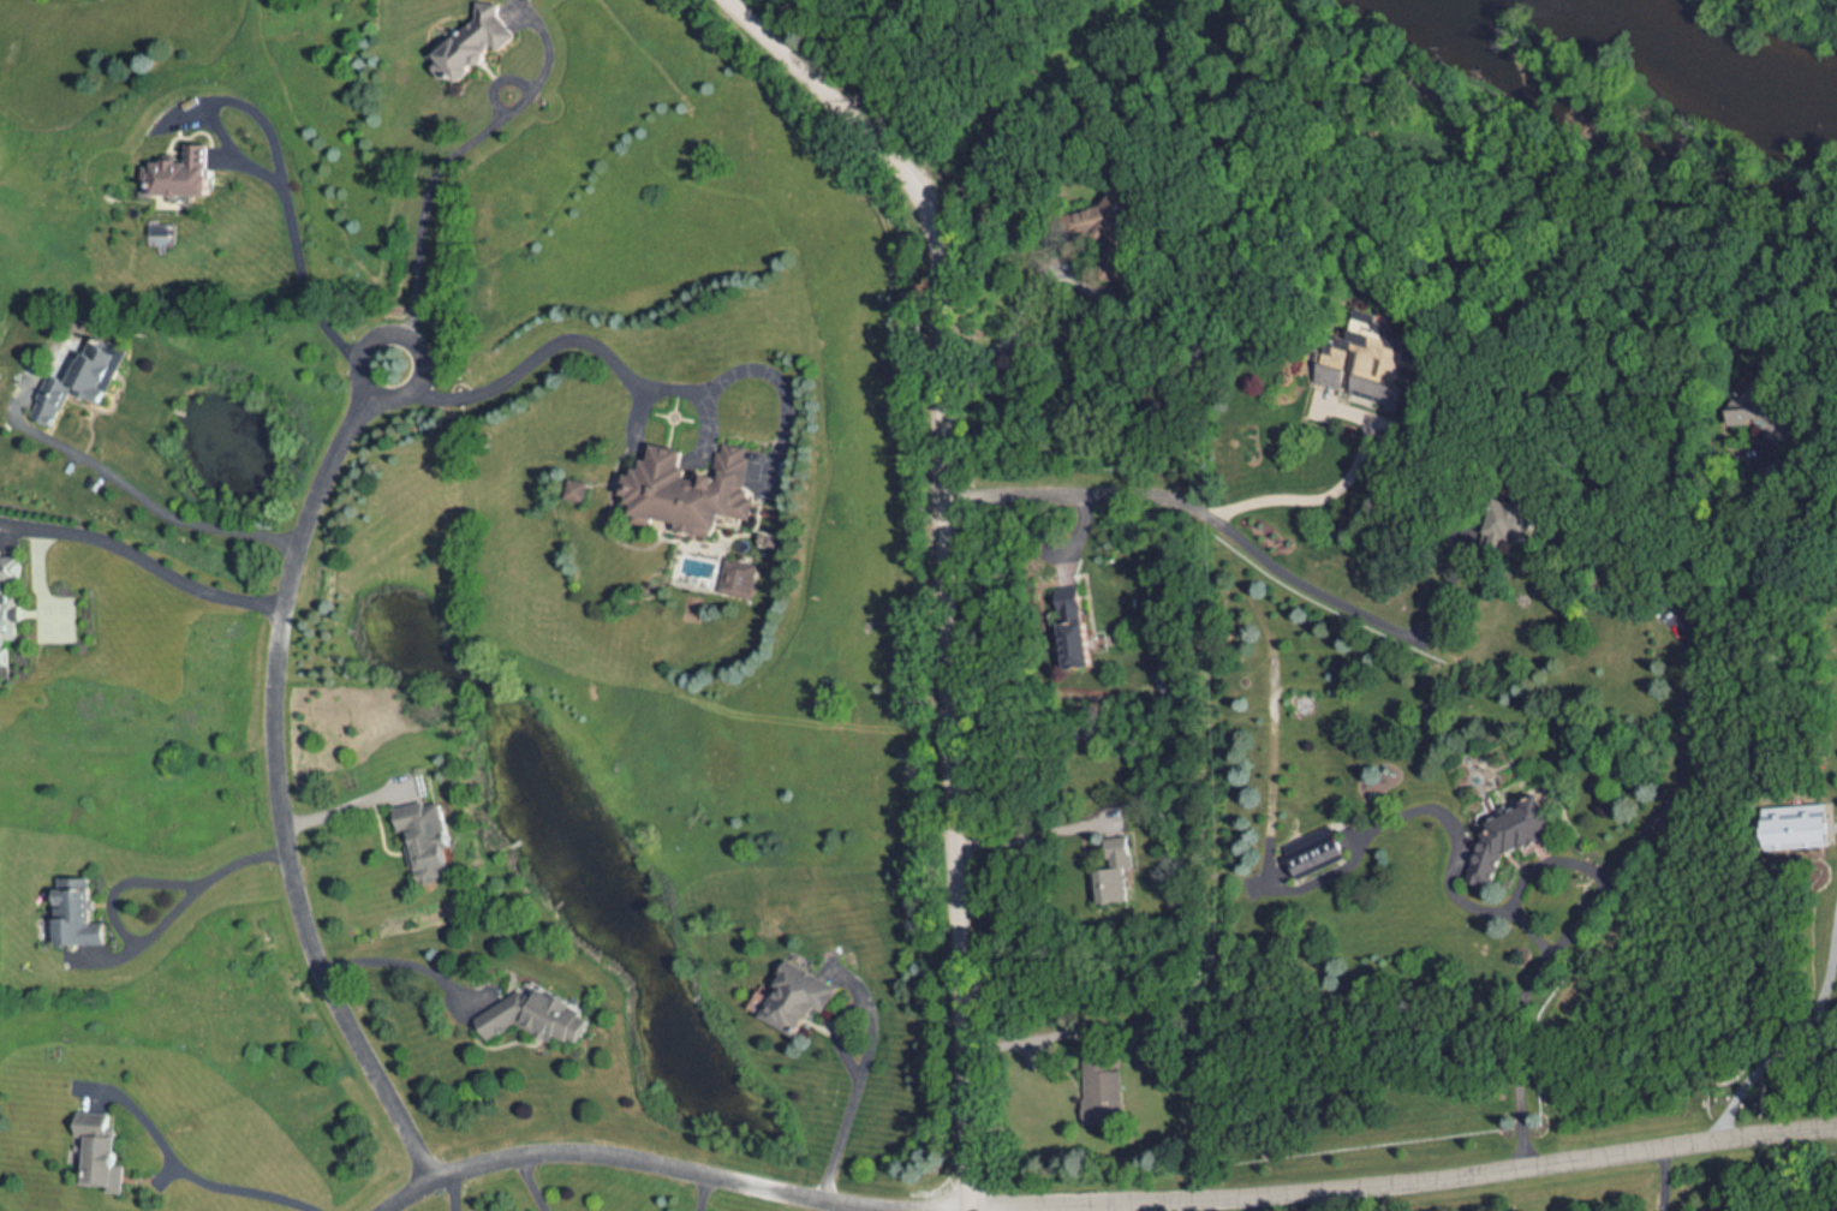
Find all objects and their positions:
building: (479, 43)
river: (1688, 71)
road: (441, 171)
building: (185, 174)
road: (296, 262)
road: (1084, 310)
road: (532, 356)
road: (759, 371)
building: (1347, 381)
building: (85, 382)
road: (632, 423)
road: (704, 430)
road: (662, 459)
building: (694, 490)
road: (130, 494)
road: (1312, 501)
road: (1200, 511)
road: (141, 560)
road: (944, 566)
road: (1448, 585)
building: (8, 615)
road: (273, 772)
road: (342, 806)
road: (1437, 815)
road: (1651, 827)
road: (1034, 830)
building: (431, 840)
building: (1305, 859)
road: (1543, 861)
building: (79, 913)
road: (141, 937)
road: (399, 965)
building: (793, 1003)
building: (542, 1019)
road: (1026, 1034)
road: (1788, 1042)
road: (864, 1051)
building: (1104, 1099)
building: (105, 1149)
road: (667, 1164)
road: (179, 1171)
road: (1664, 1179)
road: (526, 1183)
road: (1403, 1183)
road: (454, 1191)
road: (700, 1192)
road: (1243, 1204)

